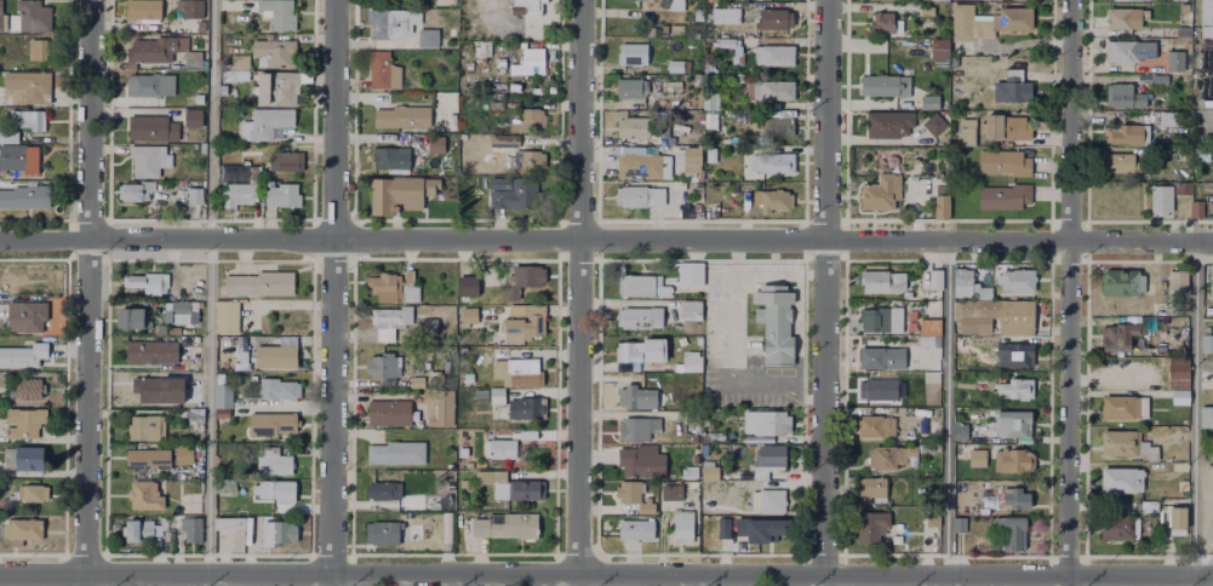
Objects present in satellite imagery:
building: (710, 0)
building: (938, 0)
building: (1127, 0)
building: (441, 1)
building: (528, 5)
building: (676, 5)
building: (141, 8)
building: (188, 8)
building: (280, 12)
road: (470, 12)
building: (696, 13)
building: (723, 13)
building: (32, 15)
building: (769, 16)
building: (1121, 17)
building: (1207, 17)
building: (1, 21)
building: (985, 21)
building: (389, 22)
building: (880, 22)
building: (675, 28)
building: (1183, 30)
building: (425, 36)
building: (723, 44)
building: (40, 47)
building: (479, 47)
building: (154, 48)
building: (938, 48)
building: (274, 51)
building: (1129, 51)
building: (633, 53)
building: (772, 53)
building: (1173, 59)
building: (193, 61)
building: (239, 61)
building: (527, 62)
building: (673, 65)
building: (383, 71)
building: (235, 75)
building: (883, 85)
building: (28, 86)
building: (150, 86)
building: (277, 87)
building: (1008, 87)
building: (771, 88)
building: (629, 91)
building: (1126, 97)
building: (199, 99)
building: (927, 100)
building: (710, 102)
building: (448, 116)
building: (194, 117)
building: (402, 117)
building: (28, 119)
building: (1168, 119)
building: (532, 121)
building: (710, 121)
building: (264, 122)
building: (694, 122)
building: (932, 122)
building: (889, 127)
building: (148, 128)
building: (642, 128)
building: (771, 128)
building: (1006, 128)
building: (968, 133)
building: (1127, 134)
building: (10, 137)
building: (504, 142)
building: (196, 144)
building: (436, 144)
building: (202, 146)
building: (1185, 154)
building: (1202, 154)
building: (710, 155)
building: (390, 159)
building: (691, 160)
building: (891, 160)
building: (19, 161)
building: (149, 161)
building: (286, 161)
building: (528, 161)
building: (768, 161)
building: (1003, 162)
building: (1123, 165)
building: (643, 166)
building: (235, 171)
building: (254, 174)
building: (1183, 189)
building: (138, 193)
building: (399, 193)
building: (514, 193)
building: (882, 193)
building: (235, 195)
building: (284, 195)
building: (24, 196)
building: (195, 196)
building: (640, 196)
building: (1003, 196)
building: (173, 199)
building: (1161, 200)
building: (776, 201)
building: (940, 208)
building: (1197, 208)
road: (606, 240)
road: (736, 255)
building: (690, 270)
road: (734, 272)
building: (410, 278)
building: (521, 278)
building: (936, 280)
building: (1015, 281)
building: (1174, 281)
building: (1212, 281)
building: (150, 283)
building: (883, 283)
building: (1122, 283)
building: (261, 285)
building: (969, 286)
building: (387, 287)
building: (468, 287)
building: (640, 287)
road: (87, 292)
road: (211, 292)
road: (332, 292)
road: (578, 292)
road: (824, 293)
road: (1069, 293)
building: (182, 311)
parking lot: (723, 315)
building: (470, 316)
building: (25, 317)
building: (227, 317)
building: (690, 317)
building: (133, 318)
building: (640, 318)
building: (994, 318)
building: (881, 321)
building: (773, 323)
building: (385, 324)
building: (428, 326)
building: (525, 326)
building: (931, 327)
building: (161, 329)
building: (173, 329)
building: (1120, 335)
building: (1207, 344)
building: (654, 351)
building: (153, 352)
building: (629, 352)
building: (1012, 352)
building: (236, 354)
building: (23, 356)
building: (275, 357)
building: (881, 358)
building: (692, 364)
building: (383, 366)
building: (516, 370)
building: (1179, 374)
building: (931, 378)
building: (434, 379)
building: (417, 381)
building: (1014, 389)
building: (25, 390)
building: (158, 390)
building: (277, 390)
building: (882, 390)
building: (481, 396)
building: (223, 397)
building: (639, 398)
building: (1180, 398)
building: (519, 404)
building: (439, 408)
building: (1125, 408)
building: (389, 413)
road: (946, 413)
road: (1194, 413)
building: (223, 414)
building: (195, 416)
building: (1207, 416)
building: (24, 423)
building: (766, 424)
building: (1013, 424)
building: (273, 425)
building: (147, 427)
building: (875, 427)
building: (56, 430)
building: (639, 430)
building: (193, 431)
building: (174, 435)
building: (960, 437)
building: (759, 439)
building: (1121, 443)
building: (497, 448)
building: (938, 448)
building: (927, 452)
building: (959, 452)
building: (184, 454)
building: (396, 454)
building: (1154, 454)
building: (891, 458)
building: (8, 459)
building: (148, 459)
building: (978, 459)
building: (640, 460)
building: (273, 461)
building: (1015, 461)
building: (708, 464)
building: (29, 465)
building: (767, 466)
building: (690, 473)
building: (709, 473)
building: (1121, 481)
building: (497, 483)
building: (225, 487)
building: (871, 487)
building: (628, 490)
building: (277, 492)
building: (385, 492)
building: (531, 492)
building: (671, 493)
building: (34, 494)
building: (145, 496)
building: (1015, 499)
building: (189, 501)
building: (771, 504)
building: (647, 507)
building: (1162, 518)
building: (1179, 518)
building: (230, 524)
building: (997, 524)
building: (959, 525)
building: (505, 527)
building: (683, 527)
building: (141, 528)
building: (447, 528)
building: (872, 528)
building: (1118, 528)
building: (23, 529)
building: (191, 529)
building: (636, 529)
building: (721, 530)
building: (767, 530)
building: (279, 533)
building: (387, 533)
building: (1017, 536)
road: (606, 574)

